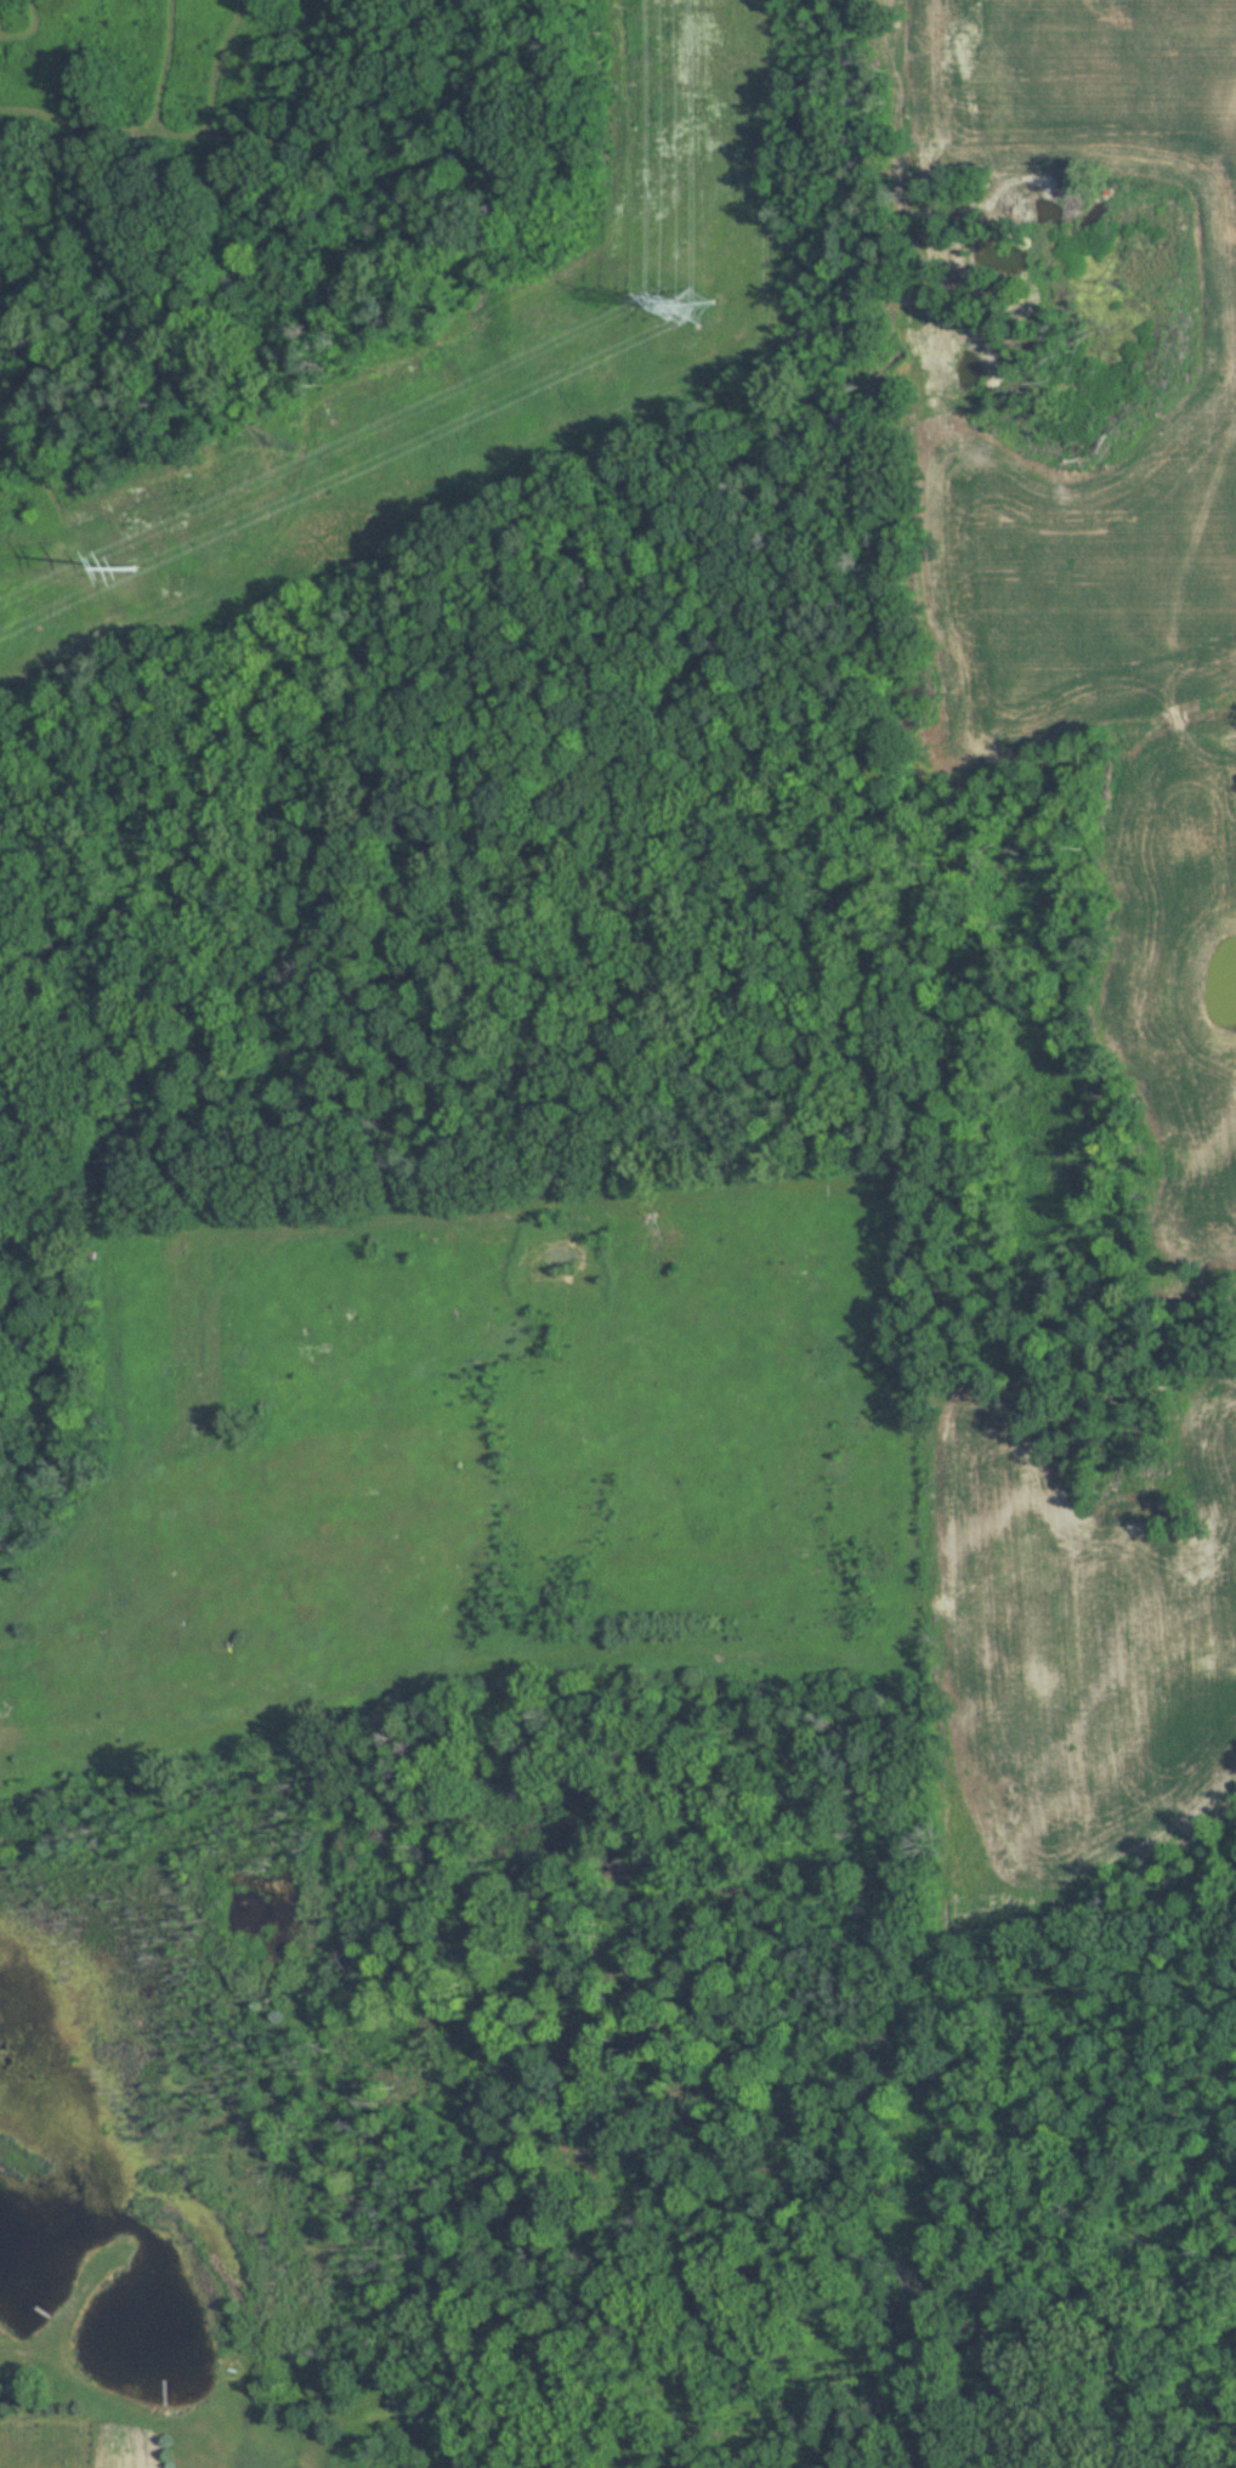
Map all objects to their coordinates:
power tower: (694, 307)
power tower: (132, 567)

